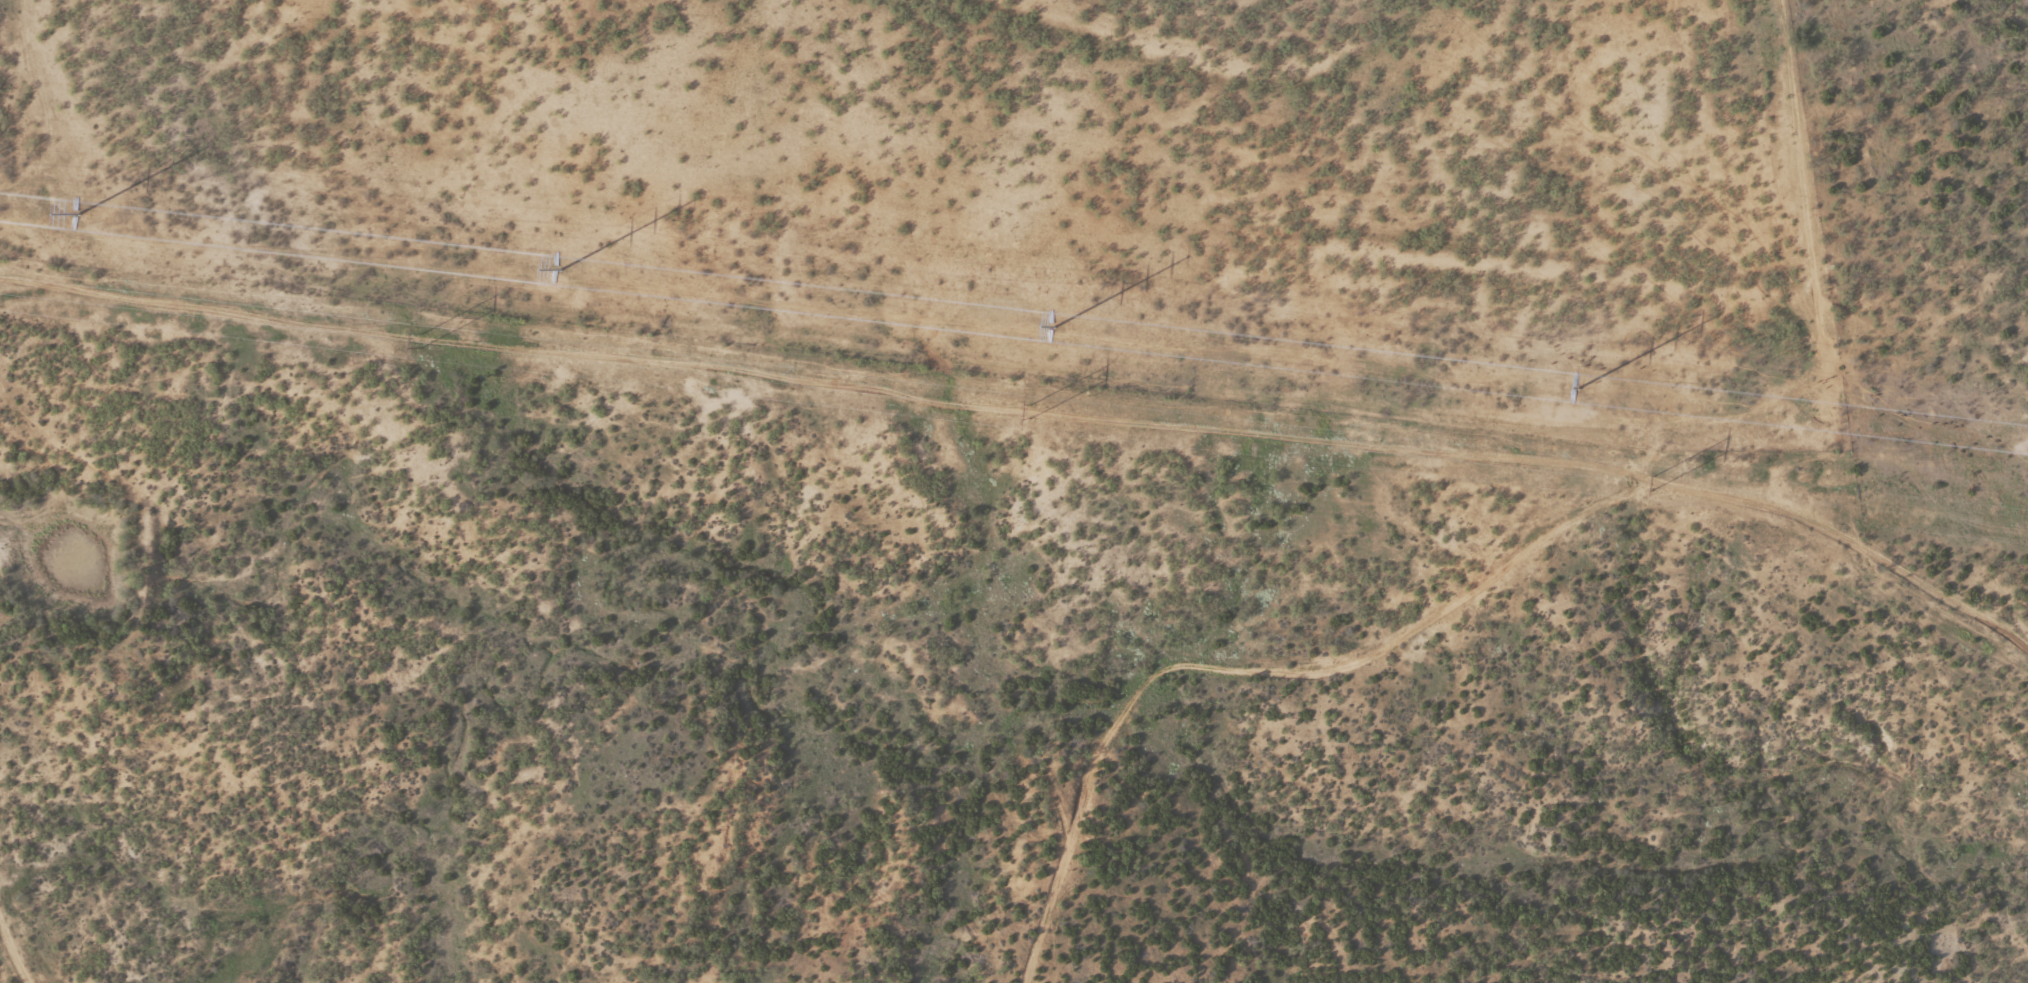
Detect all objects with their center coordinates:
power tower: (76, 215)
power tower: (558, 269)
power tower: (1052, 327)
power tower: (417, 341)
power tower: (1577, 388)
power tower: (1028, 412)
power tower: (1651, 487)
road: (1300, 636)
road: (30, 940)

